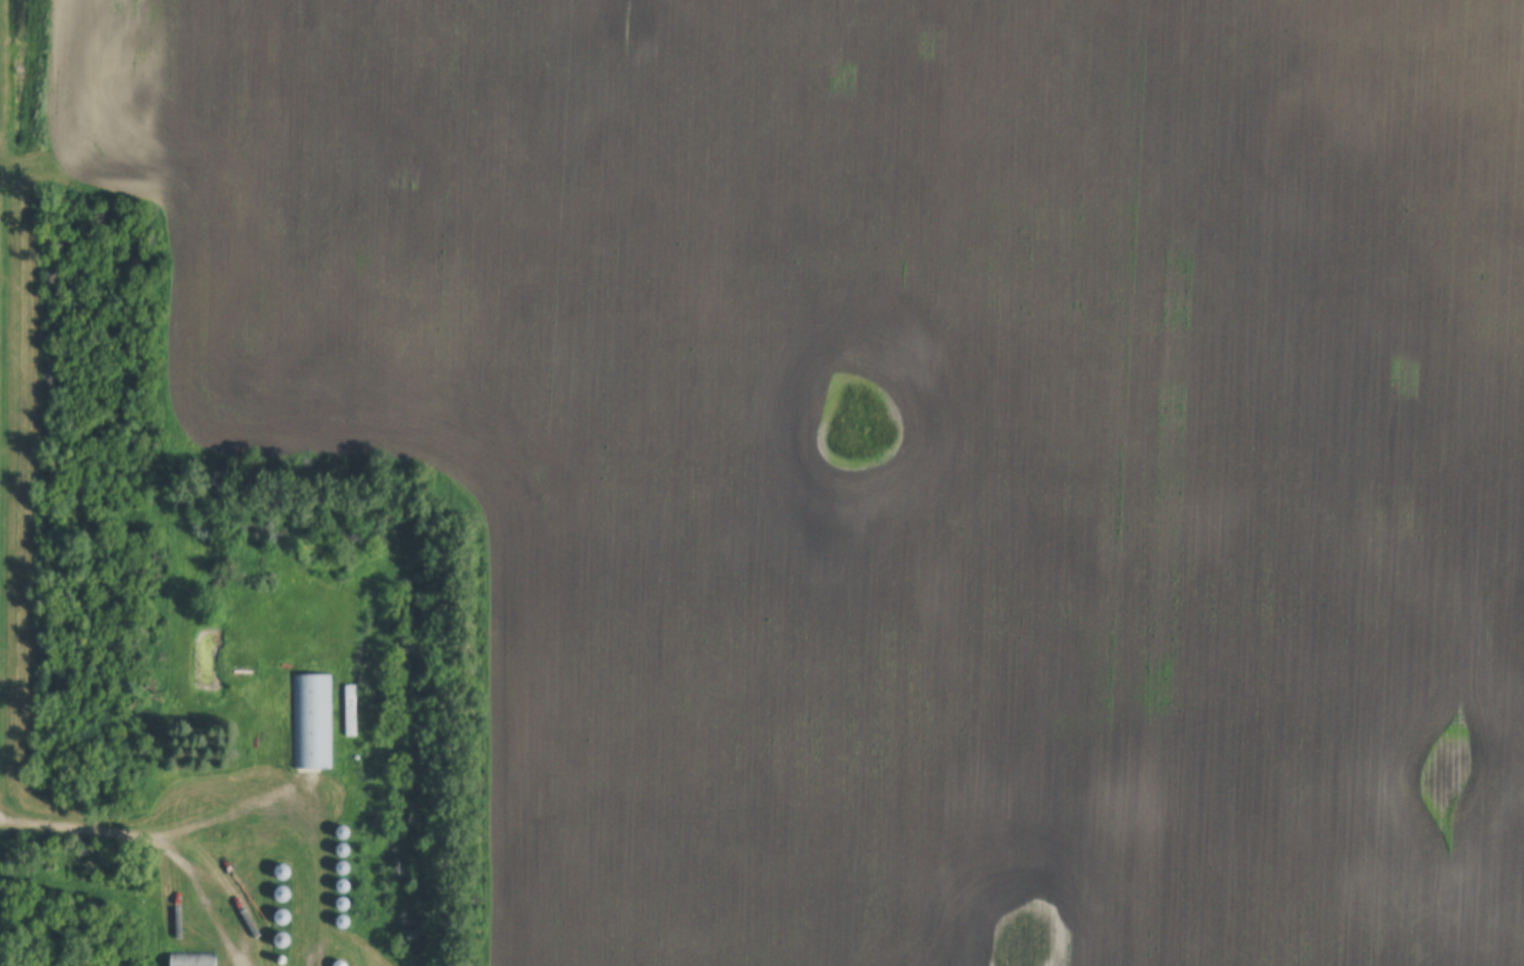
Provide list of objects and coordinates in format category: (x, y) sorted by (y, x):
building: (348, 711)
building: (311, 721)
road: (300, 819)
road: (76, 829)
road: (227, 887)
building: (334, 964)

